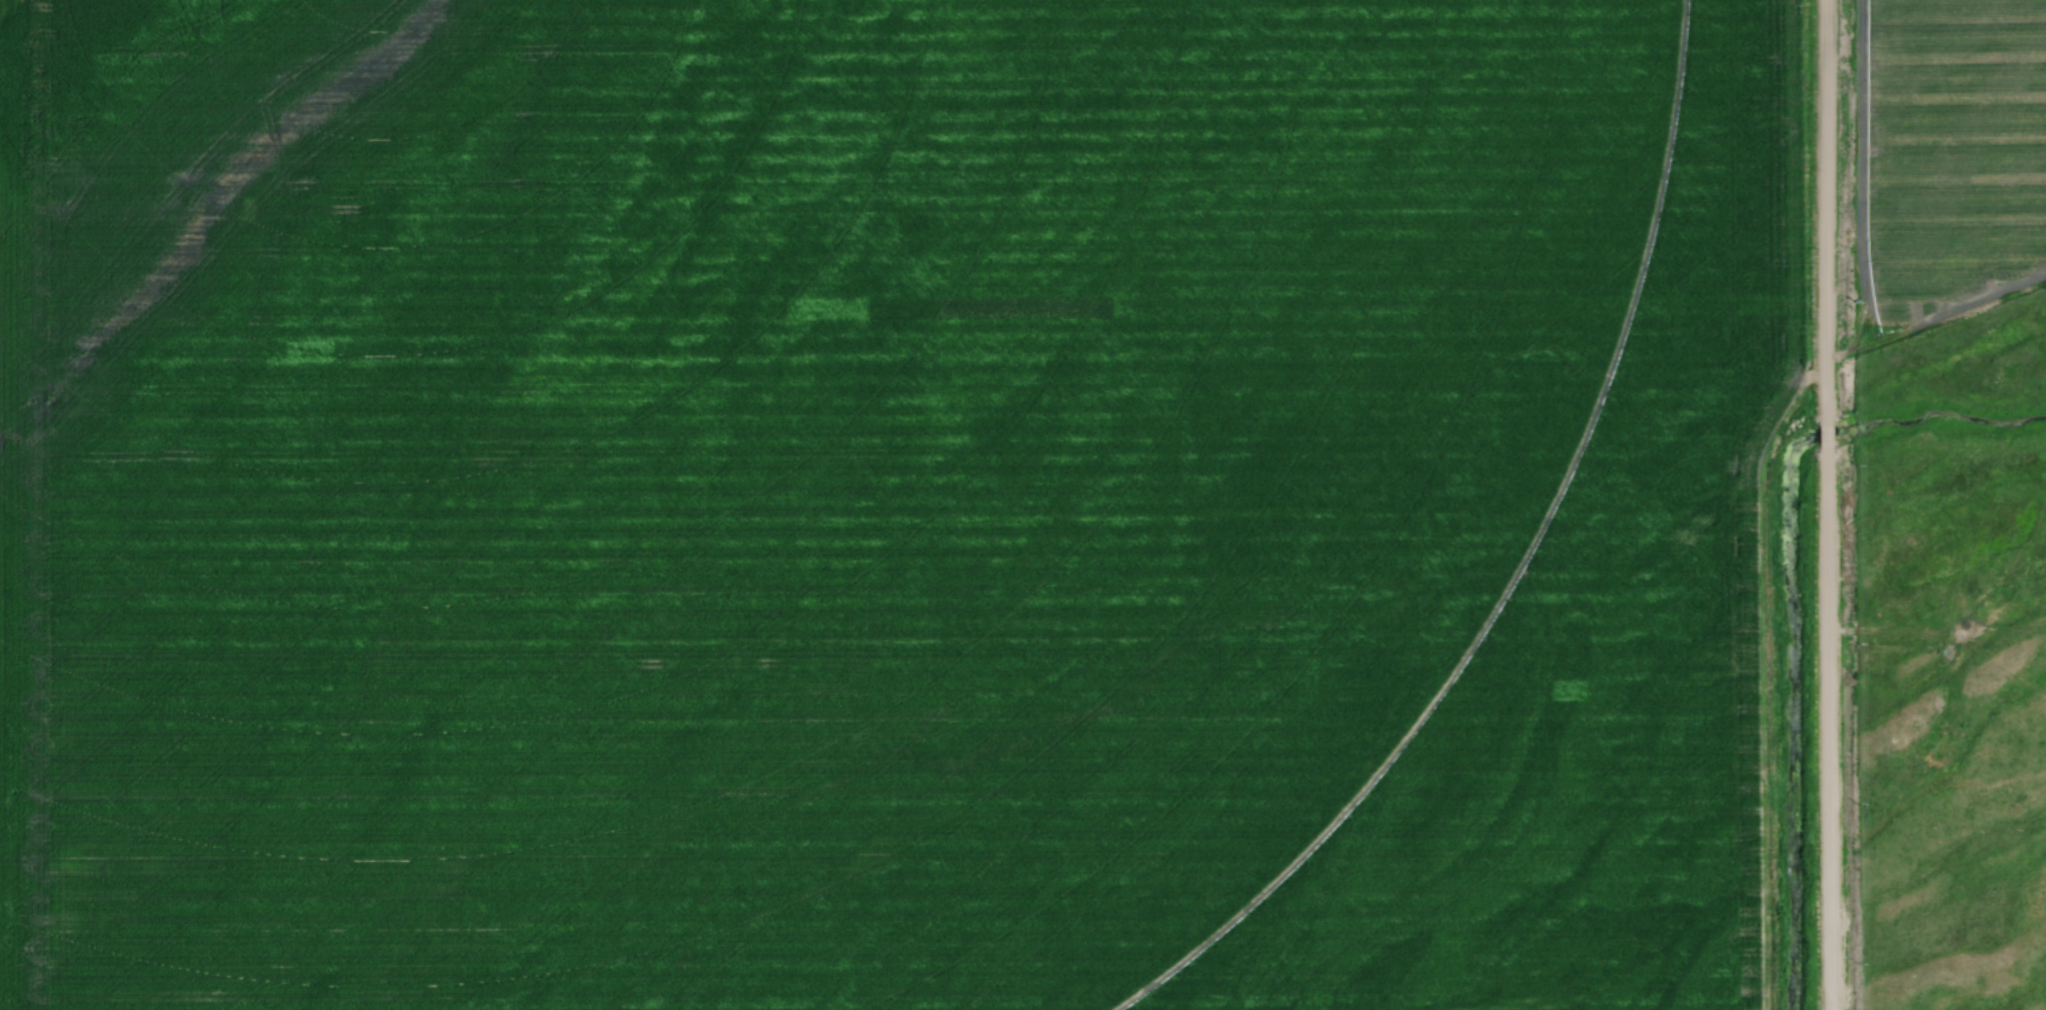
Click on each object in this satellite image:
road: (1830, 505)

